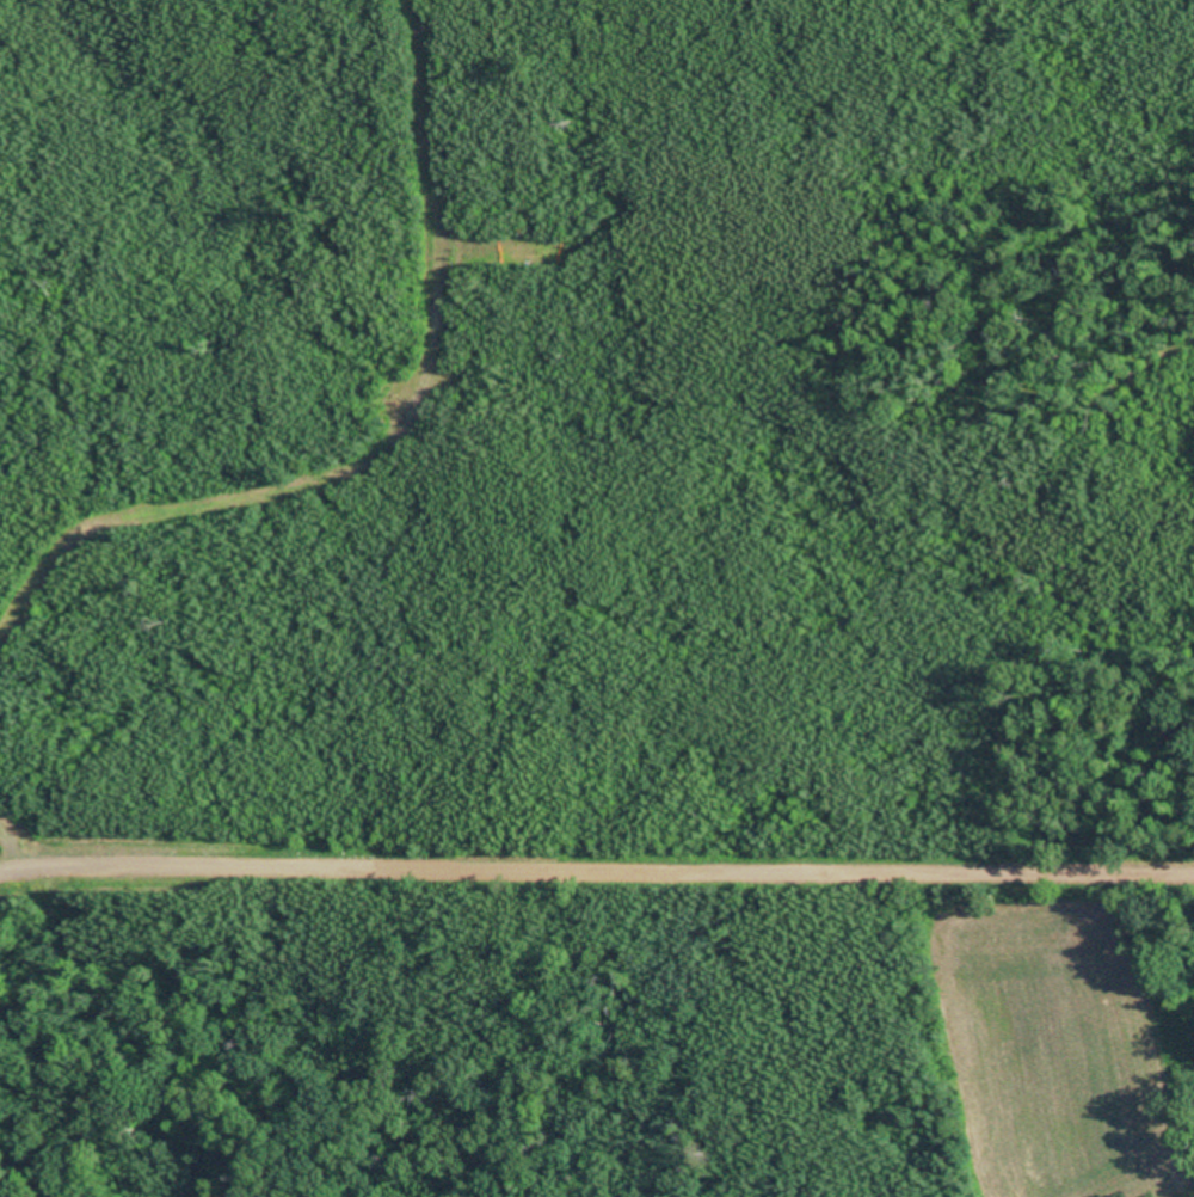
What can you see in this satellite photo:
road: (596, 872)

